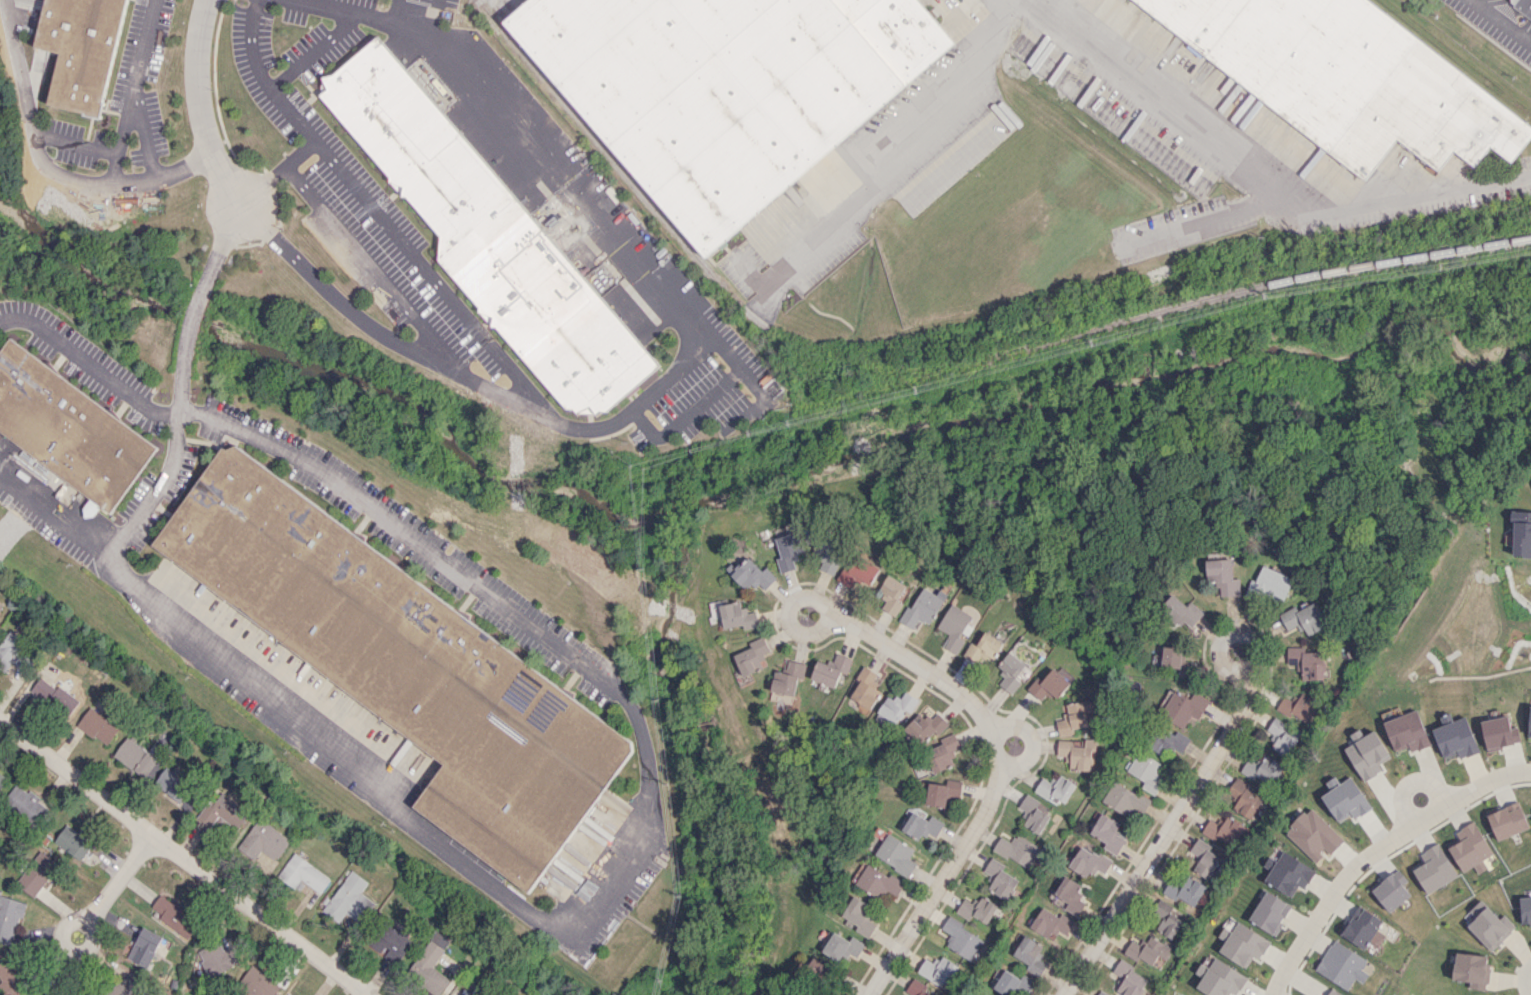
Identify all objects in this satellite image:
building: (1523, 7)
road: (428, 10)
road: (1499, 23)
road: (317, 48)
building: (82, 51)
building: (1351, 77)
road: (139, 88)
building: (727, 88)
road: (199, 107)
road: (295, 115)
road: (47, 165)
road: (891, 166)
road: (1262, 184)
road: (1198, 220)
building: (484, 227)
road: (217, 255)
road: (376, 272)
road: (432, 276)
road: (192, 317)
road: (89, 362)
railway: (938, 368)
road: (182, 369)
road: (672, 371)
road: (726, 380)
building: (68, 428)
building: (1521, 534)
road: (116, 544)
building: (789, 552)
building: (827, 552)
building: (860, 571)
building: (751, 574)
building: (1223, 576)
building: (1273, 583)
building: (893, 594)
building: (924, 607)
building: (0, 610)
building: (1181, 611)
building: (733, 614)
building: (1304, 618)
building: (956, 626)
road: (790, 629)
building: (984, 650)
building: (17, 652)
road: (1216, 654)
building: (752, 656)
building: (1177, 661)
building: (1306, 662)
building: (404, 663)
building: (831, 670)
building: (1011, 671)
building: (786, 681)
building: (1052, 683)
building: (865, 689)
building: (54, 696)
building: (1297, 704)
building: (1183, 707)
building: (896, 709)
building: (1074, 716)
building: (1529, 724)
building: (98, 726)
building: (923, 728)
building: (1407, 731)
building: (1499, 733)
building: (1283, 736)
building: (1456, 738)
road: (1028, 741)
building: (1169, 741)
building: (1076, 753)
building: (940, 754)
building: (1368, 755)
building: (137, 756)
building: (1263, 768)
building: (1146, 771)
building: (1, 778)
road: (996, 781)
road: (1409, 782)
building: (174, 784)
building: (1055, 788)
building: (943, 792)
building: (1244, 797)
building: (1345, 799)
building: (25, 802)
building: (223, 811)
building: (1032, 813)
building: (1507, 821)
building: (922, 825)
building: (1224, 830)
road: (1167, 832)
building: (1108, 833)
building: (1313, 834)
building: (266, 840)
building: (73, 842)
building: (1469, 848)
building: (1018, 850)
road: (1373, 850)
building: (896, 854)
road: (182, 856)
road: (630, 856)
building: (1205, 858)
building: (1088, 861)
building: (1433, 868)
building: (37, 873)
building: (303, 873)
building: (1289, 874)
building: (999, 878)
building: (879, 882)
building: (1185, 890)
building: (1391, 890)
building: (1070, 895)
building: (350, 899)
building: (977, 909)
building: (1525, 909)
building: (1270, 912)
building: (860, 915)
building: (176, 916)
building: (10, 918)
road: (89, 919)
building: (1167, 919)
building: (1051, 924)
building: (1361, 927)
building: (1490, 927)
building: (961, 938)
building: (393, 942)
building: (1242, 944)
building: (843, 946)
building: (144, 947)
building: (1147, 950)
building: (1030, 955)
building: (219, 958)
building: (430, 964)
building: (1341, 965)
building: (817, 968)
building: (938, 970)
building: (1471, 970)
building: (8, 976)
building: (1219, 978)
building: (1128, 979)
road: (1524, 979)
building: (257, 982)
building: (1007, 983)
building: (125, 987)
building: (918, 989)
building: (470, 990)
building: (1333, 992)
building: (1101, 993)
building: (43, 994)
building: (985, 994)

